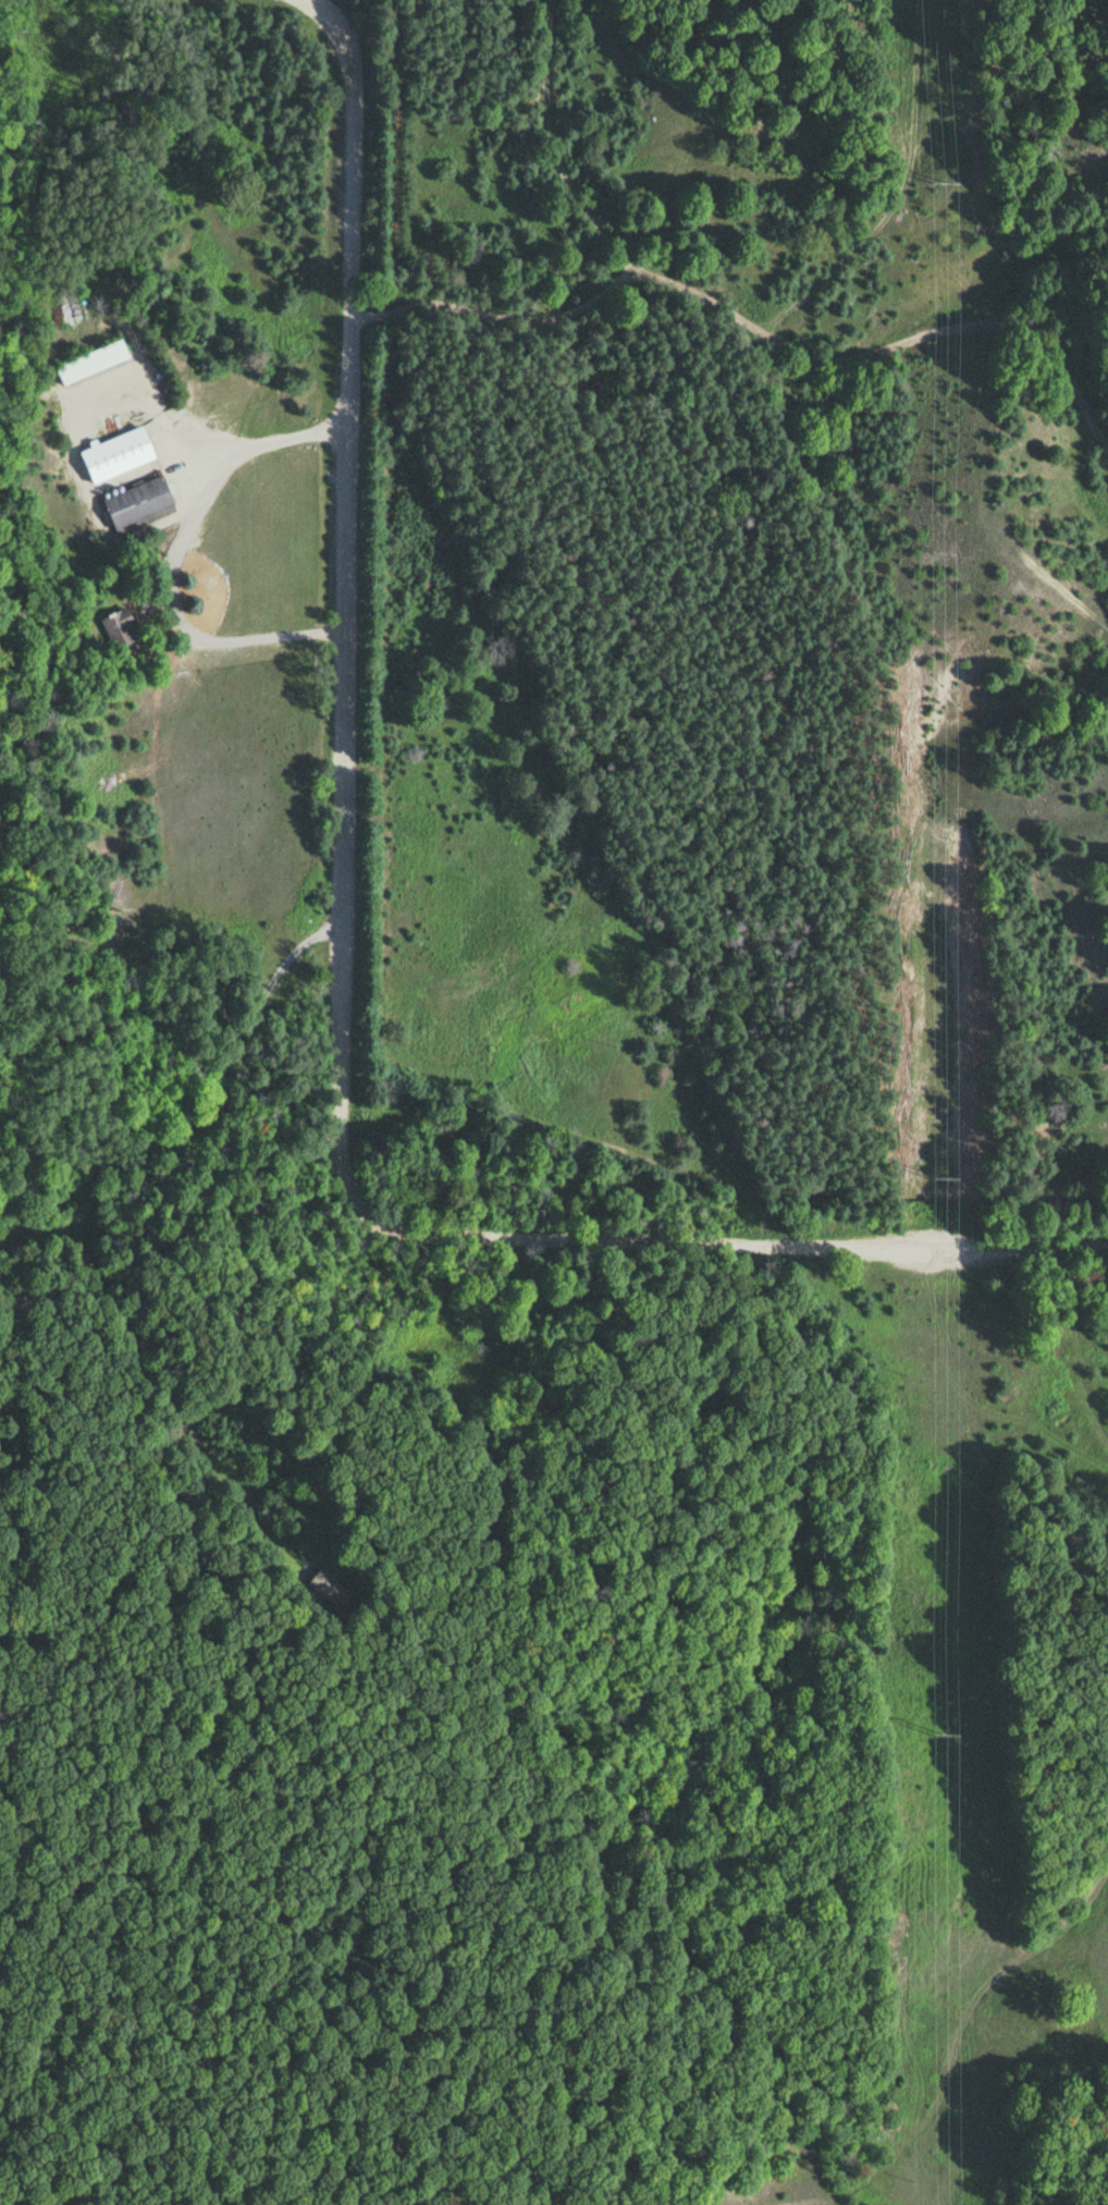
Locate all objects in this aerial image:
building: (89, 360)
building: (114, 454)
building: (138, 505)
building: (118, 627)
road: (344, 890)
road: (1017, 1244)

